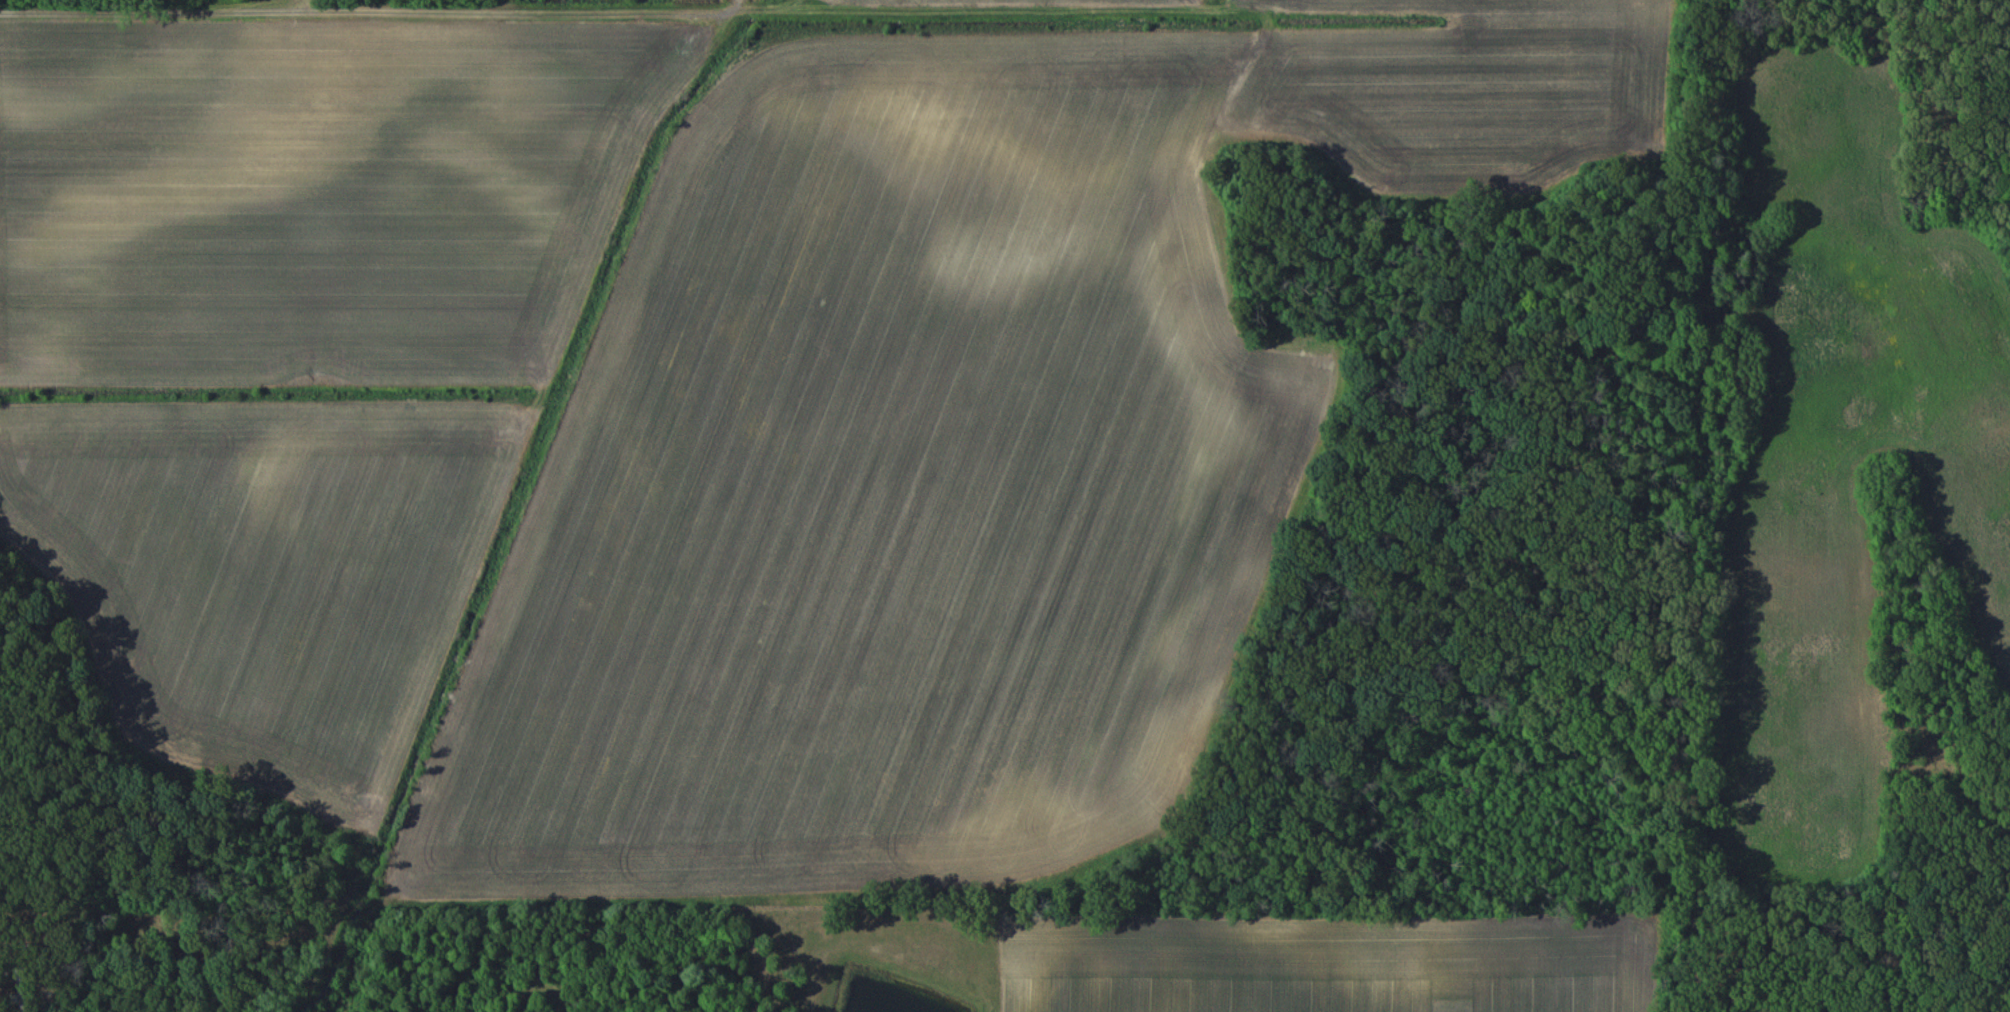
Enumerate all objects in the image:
road: (372, 7)

